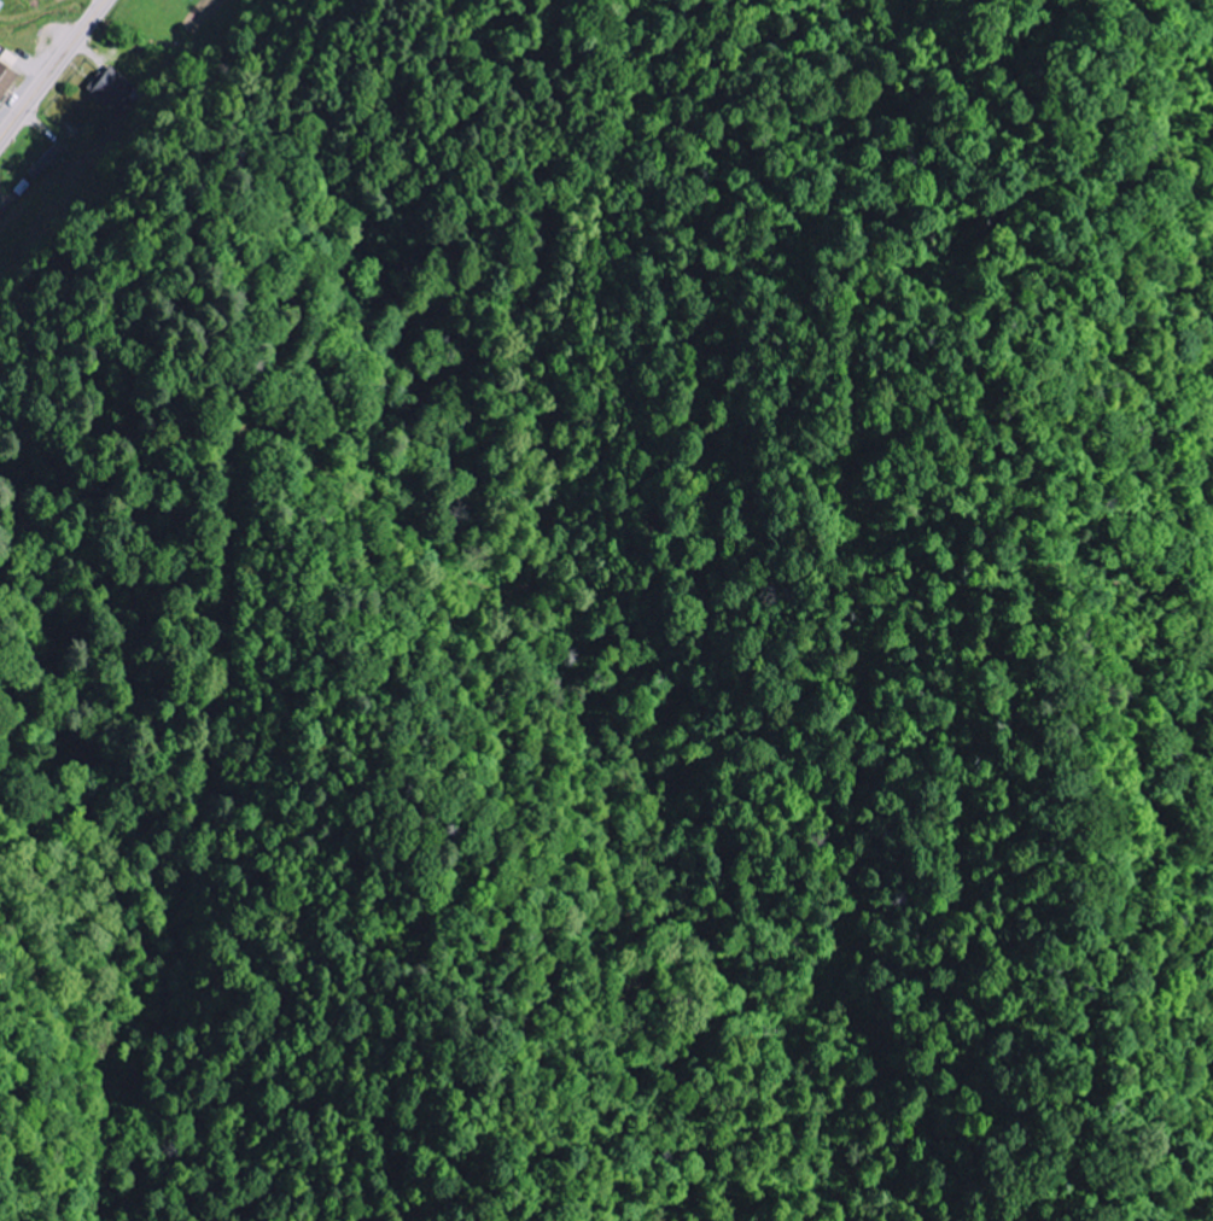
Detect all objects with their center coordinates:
road: (53, 71)
building: (8, 74)
building: (113, 88)
building: (54, 163)

